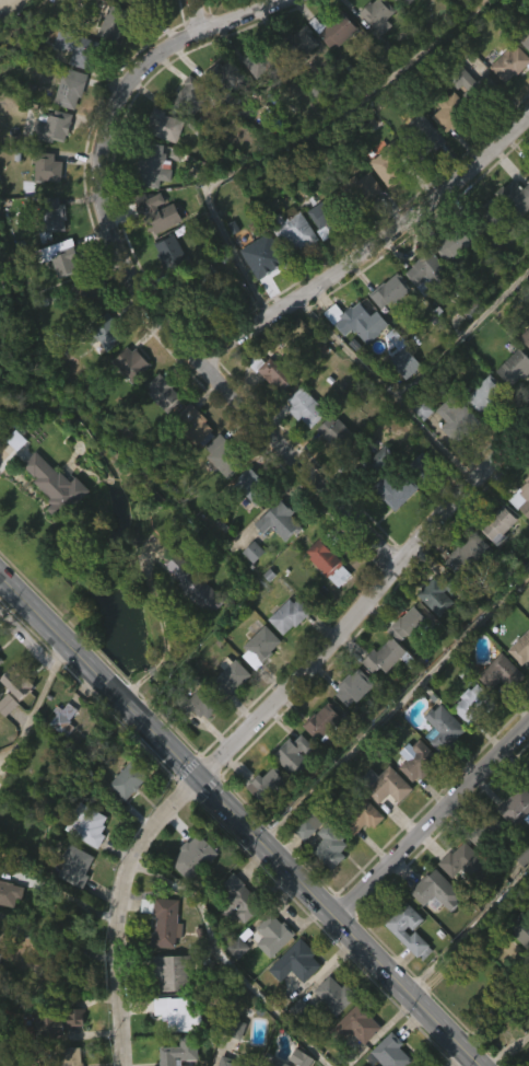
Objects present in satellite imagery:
building: (2, 1)
building: (235, 1)
building: (401, 1)
building: (410, 1)
building: (426, 5)
building: (376, 14)
road: (200, 15)
building: (131, 19)
building: (116, 21)
building: (403, 25)
building: (337, 28)
building: (526, 38)
building: (302, 43)
building: (80, 47)
building: (374, 51)
building: (108, 59)
building: (512, 62)
building: (269, 65)
building: (329, 67)
road: (148, 70)
building: (526, 72)
building: (296, 79)
building: (227, 80)
building: (72, 88)
building: (474, 88)
building: (193, 95)
building: (252, 101)
building: (503, 102)
building: (452, 111)
building: (223, 114)
building: (463, 121)
building: (166, 125)
building: (55, 127)
building: (187, 131)
building: (424, 136)
building: (445, 149)
building: (393, 163)
building: (151, 164)
building: (49, 167)
building: (420, 170)
building: (362, 190)
building: (516, 197)
building: (383, 204)
building: (42, 205)
building: (158, 211)
building: (55, 212)
building: (329, 215)
building: (487, 216)
building: (355, 225)
building: (292, 231)
building: (504, 239)
building: (455, 242)
road: (373, 245)
building: (153, 251)
building: (173, 252)
building: (266, 255)
building: (319, 255)
building: (61, 257)
building: (431, 267)
building: (290, 270)
building: (448, 280)
building: (164, 287)
building: (202, 289)
building: (391, 291)
building: (257, 293)
building: (89, 294)
building: (58, 296)
building: (419, 308)
building: (354, 322)
building: (386, 329)
building: (105, 333)
building: (84, 334)
building: (526, 337)
building: (353, 359)
building: (132, 362)
building: (409, 363)
building: (98, 369)
building: (275, 370)
building: (524, 374)
building: (165, 392)
road: (237, 395)
building: (125, 401)
building: (402, 402)
building: (509, 405)
building: (305, 407)
building: (271, 409)
building: (458, 419)
building: (196, 426)
building: (158, 430)
building: (479, 430)
building: (339, 433)
building: (297, 443)
building: (448, 453)
building: (225, 455)
building: (374, 460)
building: (187, 461)
building: (324, 467)
building: (57, 486)
building: (250, 487)
building: (396, 489)
building: (219, 493)
building: (371, 498)
building: (522, 498)
building: (243, 520)
building: (281, 520)
building: (49, 522)
building: (501, 524)
building: (389, 526)
building: (519, 535)
building: (470, 556)
building: (274, 558)
building: (329, 560)
building: (493, 561)
building: (193, 582)
building: (247, 589)
building: (462, 592)
building: (439, 593)
building: (322, 600)
road: (157, 610)
building: (291, 615)
building: (187, 619)
building: (412, 626)
building: (431, 637)
building: (262, 647)
building: (520, 648)
building: (282, 652)
building: (386, 656)
building: (1, 660)
road: (154, 671)
building: (503, 673)
building: (232, 677)
building: (389, 679)
building: (255, 684)
building: (518, 684)
road: (133, 685)
building: (354, 686)
building: (15, 688)
building: (199, 702)
building: (475, 705)
road: (35, 706)
road: (396, 707)
building: (495, 710)
building: (226, 715)
building: (61, 718)
road: (260, 721)
building: (324, 725)
building: (348, 725)
building: (10, 726)
building: (193, 741)
building: (467, 741)
building: (295, 755)
building: (58, 756)
building: (316, 757)
building: (421, 762)
building: (437, 765)
building: (526, 777)
building: (129, 781)
building: (390, 787)
building: (273, 788)
building: (411, 797)
building: (517, 806)
building: (362, 816)
building: (121, 819)
road: (240, 820)
building: (261, 821)
building: (379, 821)
road: (433, 821)
building: (89, 825)
building: (490, 833)
building: (325, 841)
building: (513, 844)
building: (355, 853)
building: (195, 857)
building: (303, 864)
building: (467, 864)
building: (0, 870)
building: (74, 870)
building: (325, 885)
building: (438, 891)
building: (9, 893)
building: (188, 893)
road: (67, 894)
building: (244, 897)
building: (456, 899)
building: (70, 901)
building: (164, 920)
building: (521, 926)
building: (432, 927)
building: (5, 930)
building: (400, 931)
building: (274, 935)
building: (236, 936)
road: (471, 936)
road: (60, 937)
building: (1, 959)
building: (161, 960)
building: (298, 961)
road: (227, 963)
building: (402, 966)
building: (268, 971)
building: (174, 972)
building: (521, 973)
building: (337, 995)
building: (291, 999)
building: (180, 1012)
building: (60, 1021)
building: (360, 1022)
building: (234, 1027)
building: (327, 1031)
road: (506, 1050)
building: (392, 1052)
building: (183, 1053)
building: (72, 1056)
building: (351, 1057)
building: (231, 1058)
building: (277, 1062)

